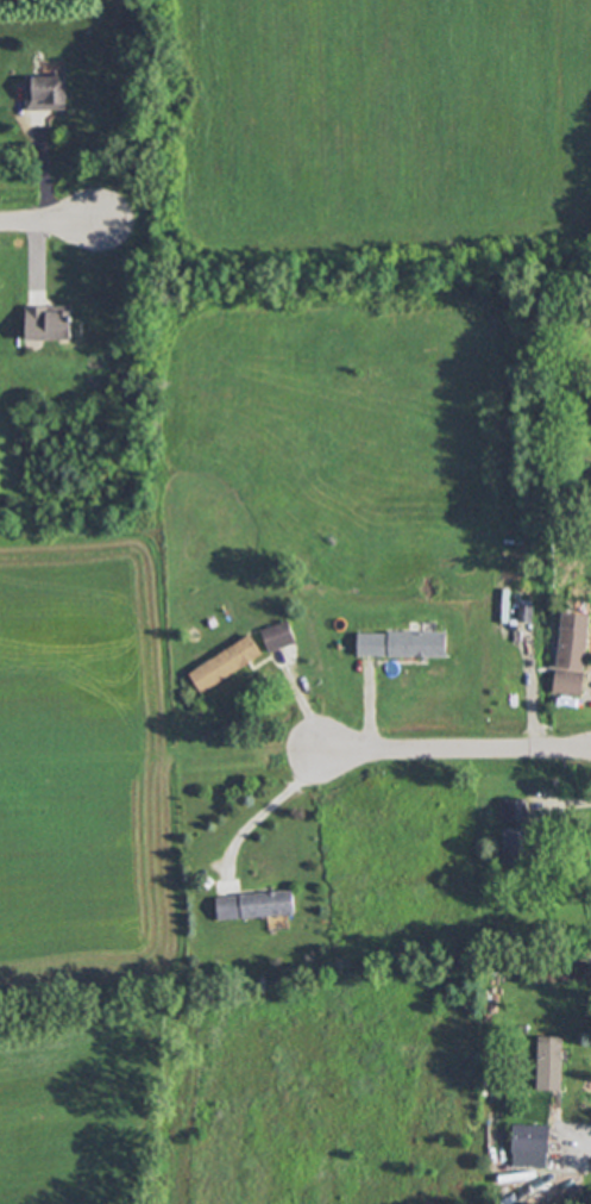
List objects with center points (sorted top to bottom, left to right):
building: (45, 89)
road: (48, 220)
building: (48, 322)
building: (524, 611)
building: (574, 618)
building: (277, 635)
building: (402, 643)
building: (571, 648)
building: (226, 662)
building: (567, 680)
road: (454, 749)
road: (274, 809)
building: (514, 809)
building: (518, 843)
building: (207, 880)
building: (256, 904)
building: (521, 1028)
building: (548, 1061)
building: (529, 1144)

